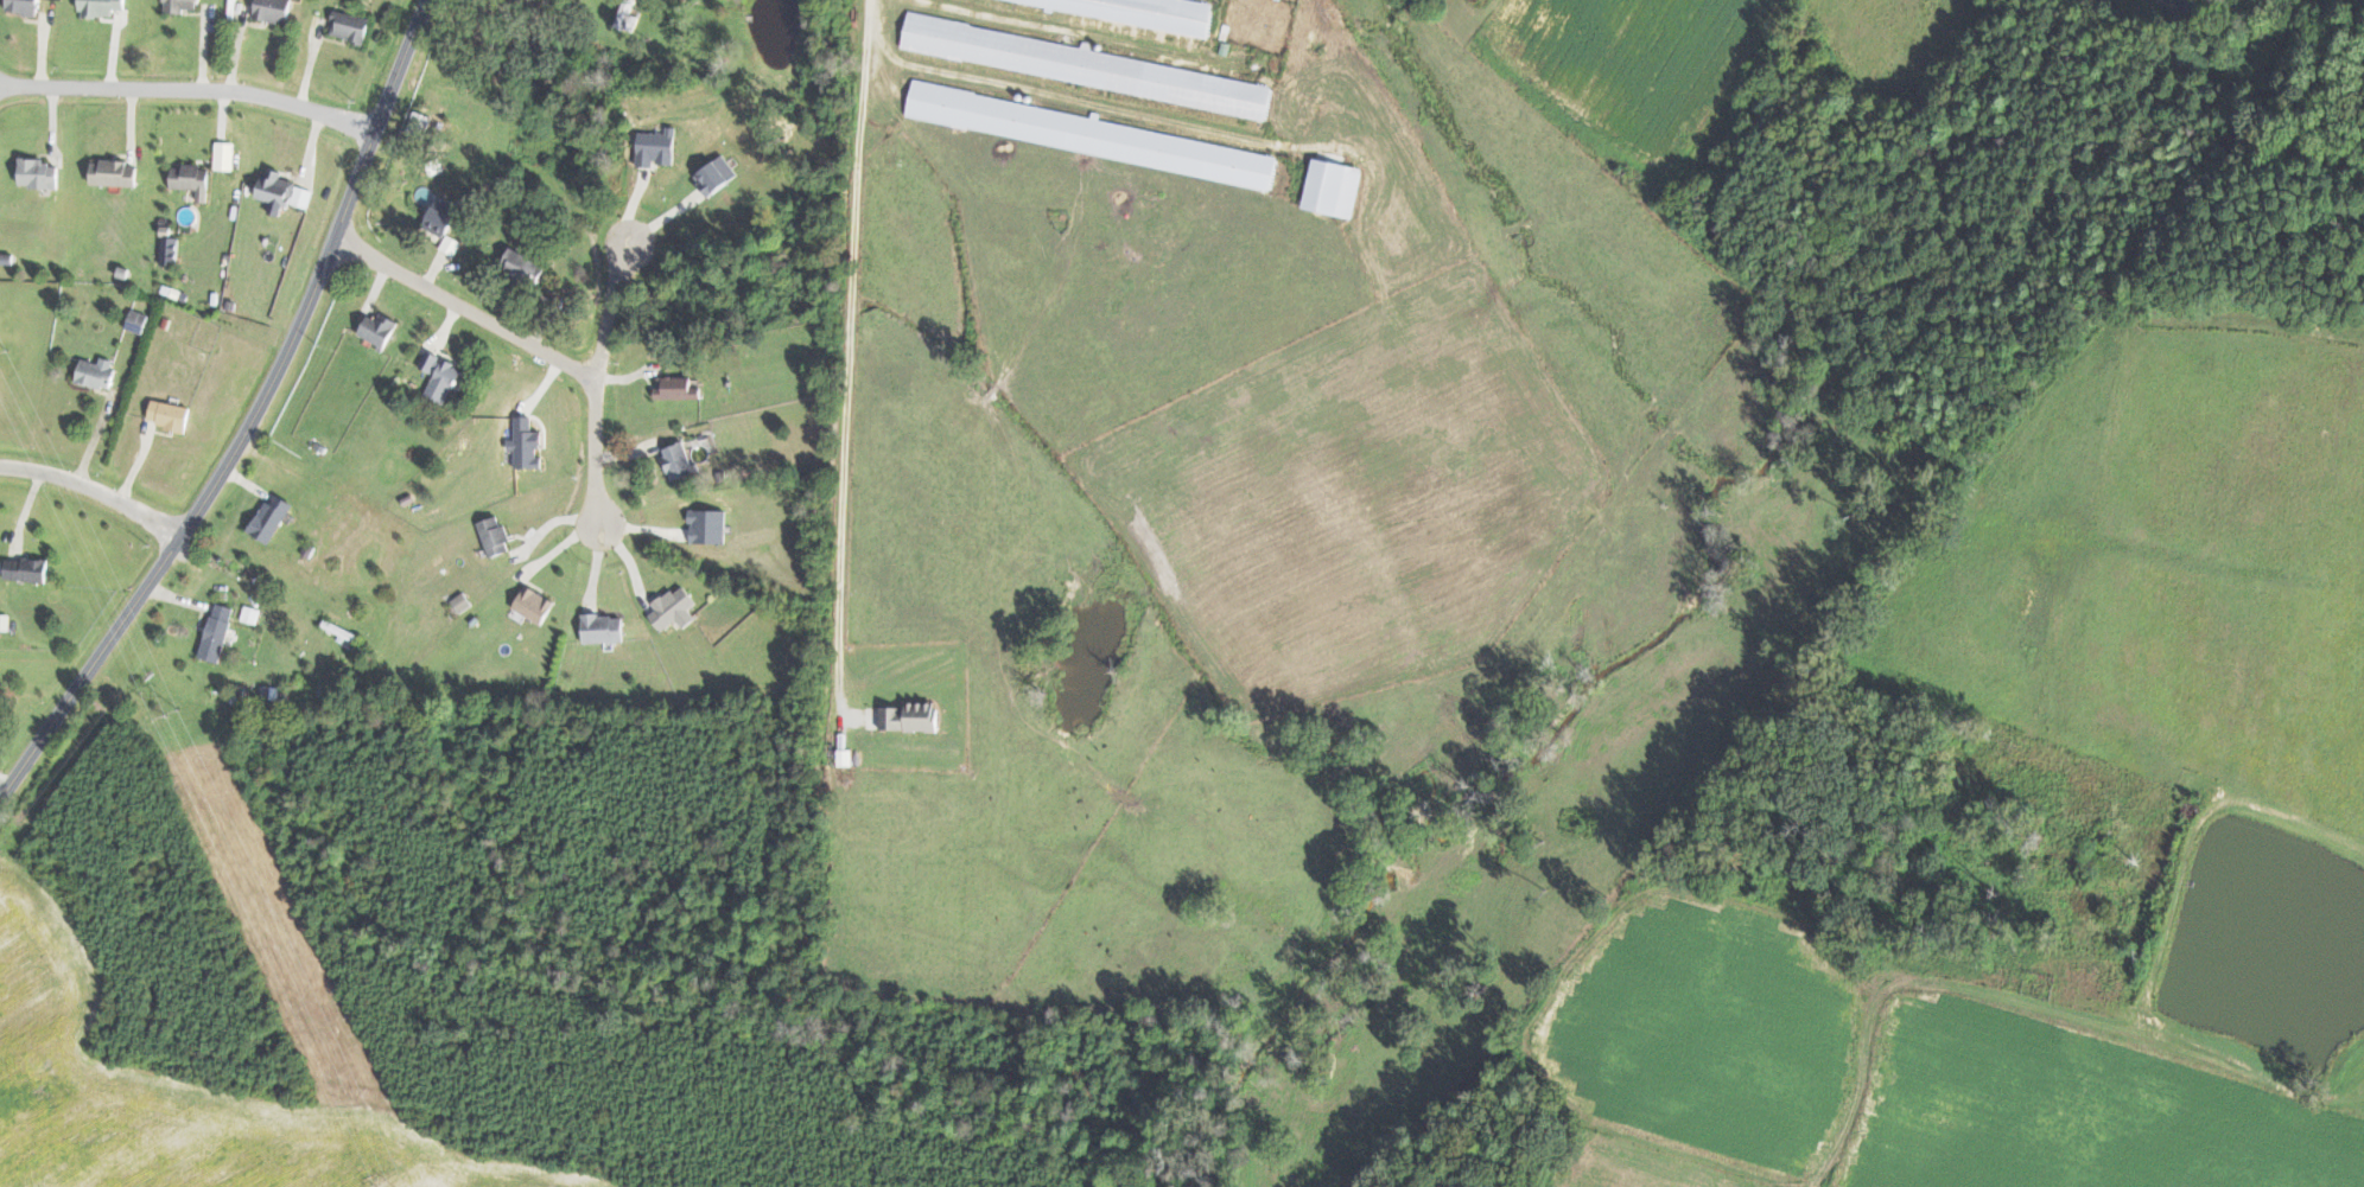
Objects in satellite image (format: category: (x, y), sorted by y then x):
building: (182, 5)
building: (25, 6)
building: (102, 7)
building: (274, 9)
building: (1145, 11)
building: (350, 26)
building: (1087, 65)
road: (184, 109)
building: (419, 123)
building: (1083, 133)
building: (657, 147)
building: (225, 155)
building: (39, 172)
building: (115, 172)
building: (717, 174)
building: (193, 179)
building: (1335, 186)
building: (284, 191)
building: (441, 216)
building: (526, 264)
road: (466, 311)
building: (380, 328)
road: (851, 355)
power tower: (4, 356)
road: (599, 371)
building: (97, 372)
building: (440, 376)
building: (679, 387)
building: (170, 414)
road: (252, 421)
building: (526, 443)
building: (679, 460)
road: (94, 490)
building: (272, 517)
building: (707, 525)
building: (495, 536)
building: (27, 569)
road: (239, 592)
building: (462, 602)
building: (534, 604)
building: (675, 608)
building: (252, 614)
building: (5, 621)
building: (604, 627)
building: (217, 632)
building: (911, 716)
building: (845, 757)

